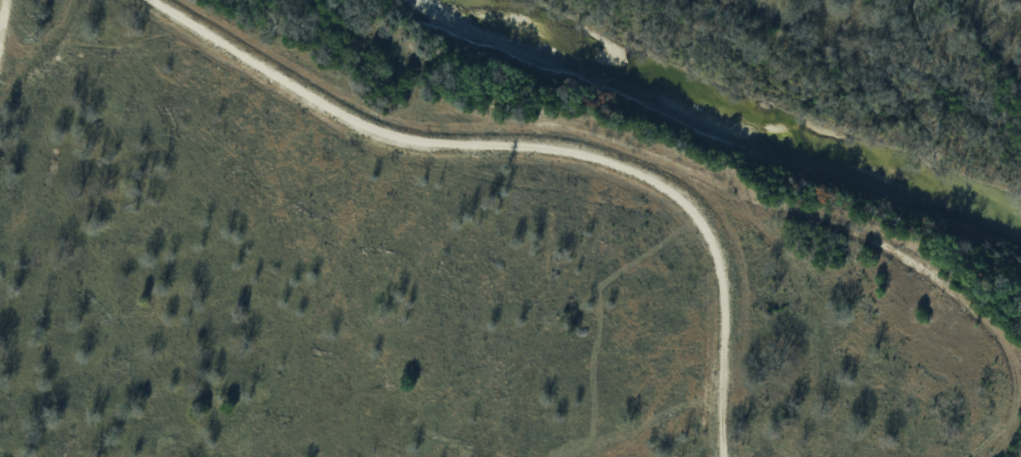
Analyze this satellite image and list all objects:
river: (738, 123)
road: (543, 142)

